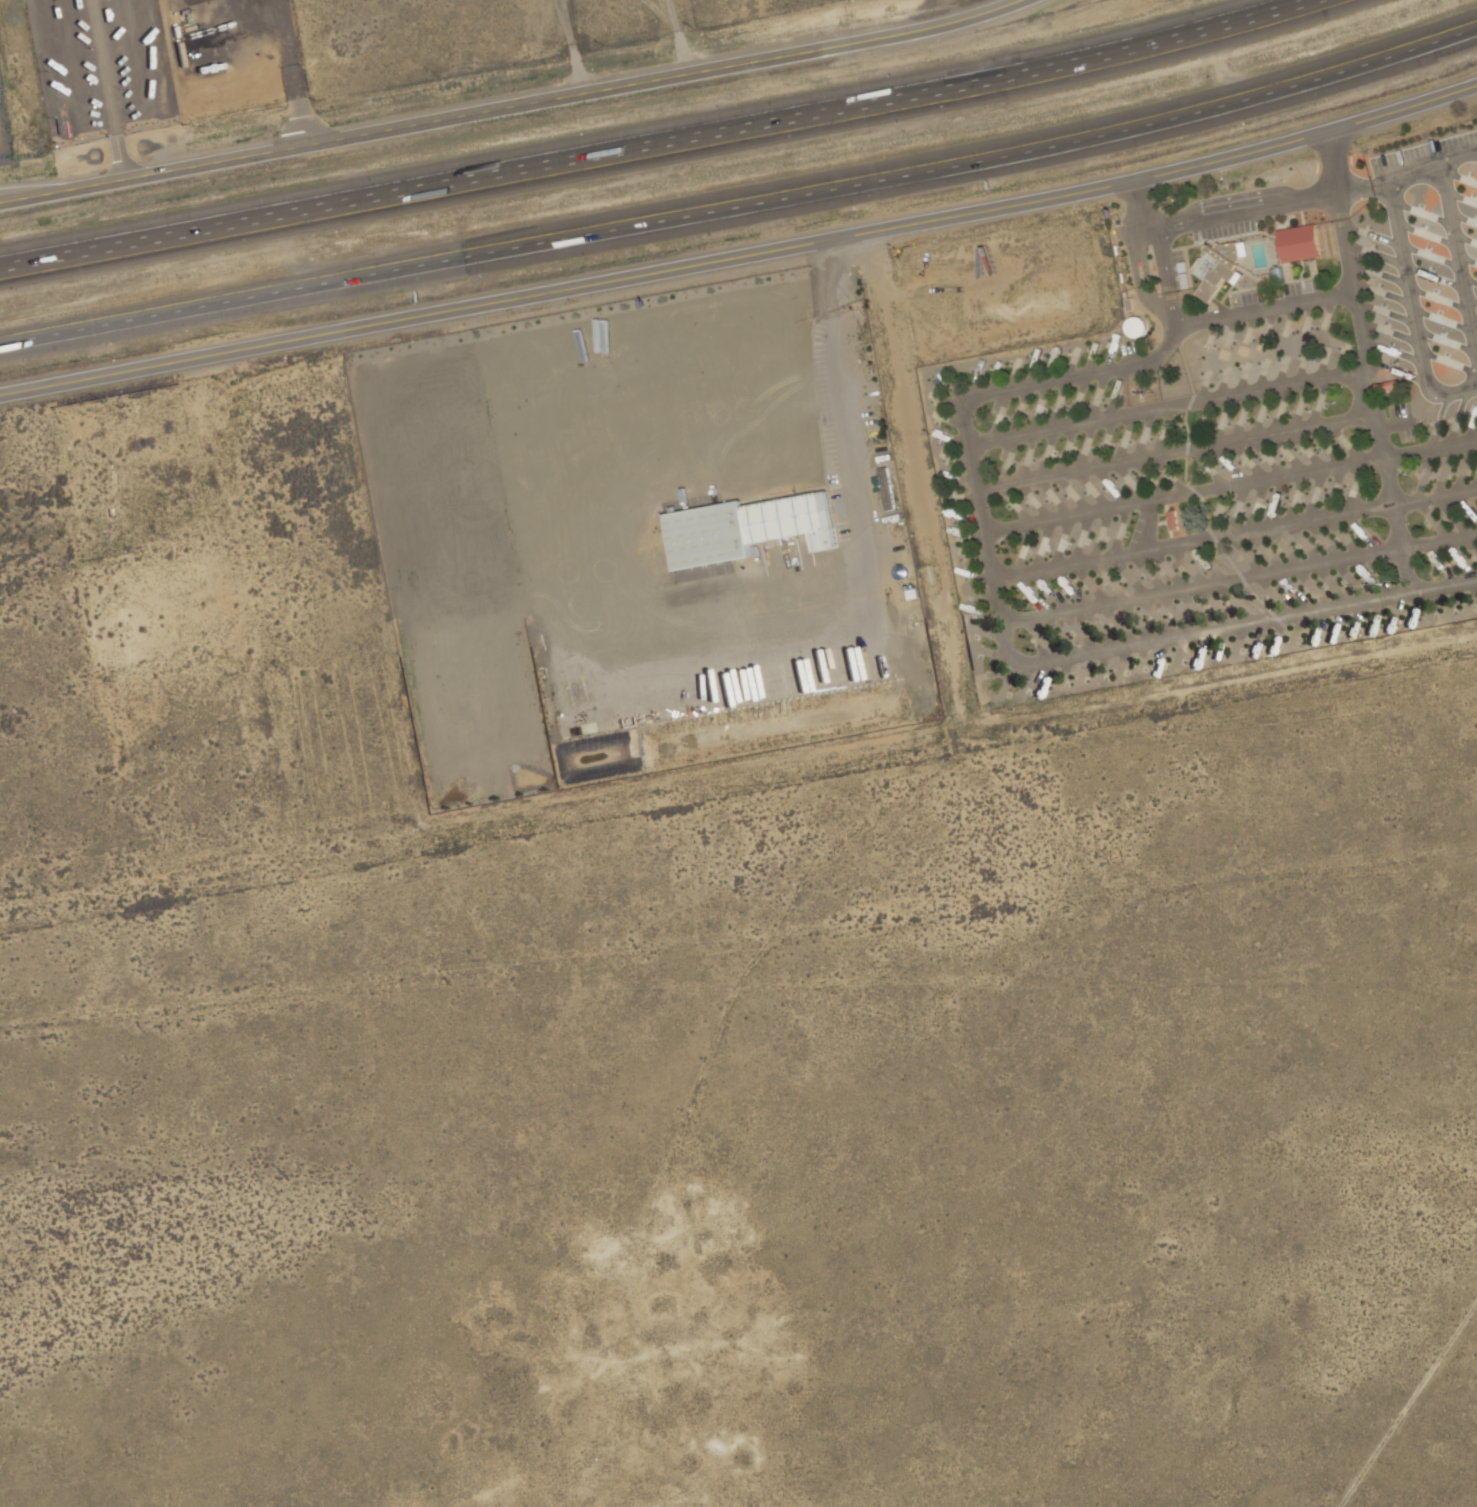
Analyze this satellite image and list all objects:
road: (677, 34)
road: (569, 43)
parking lot: (106, 70)
road: (108, 85)
road: (508, 100)
parking lot: (7, 114)
road: (655, 140)
road: (1335, 159)
road: (1433, 169)
road: (1364, 187)
road: (1139, 205)
road: (1247, 207)
road: (743, 209)
flagpole: (1083, 217)
road: (1346, 240)
building: (1299, 243)
building: (1229, 250)
road: (742, 253)
building: (1222, 256)
road: (1458, 265)
building: (1223, 273)
building: (1207, 275)
road: (1412, 308)
building: (1140, 327)
storage tank: (1140, 327)
road: (1363, 352)
road: (987, 392)
road: (1166, 408)
road: (1430, 448)
road: (1173, 453)
road: (857, 489)
building: (883, 489)
road: (1184, 494)
road: (1434, 496)
building: (745, 528)
road: (1193, 540)
road: (1239, 578)
building: (460, 616)
road: (1256, 621)
road: (1408, 1404)

